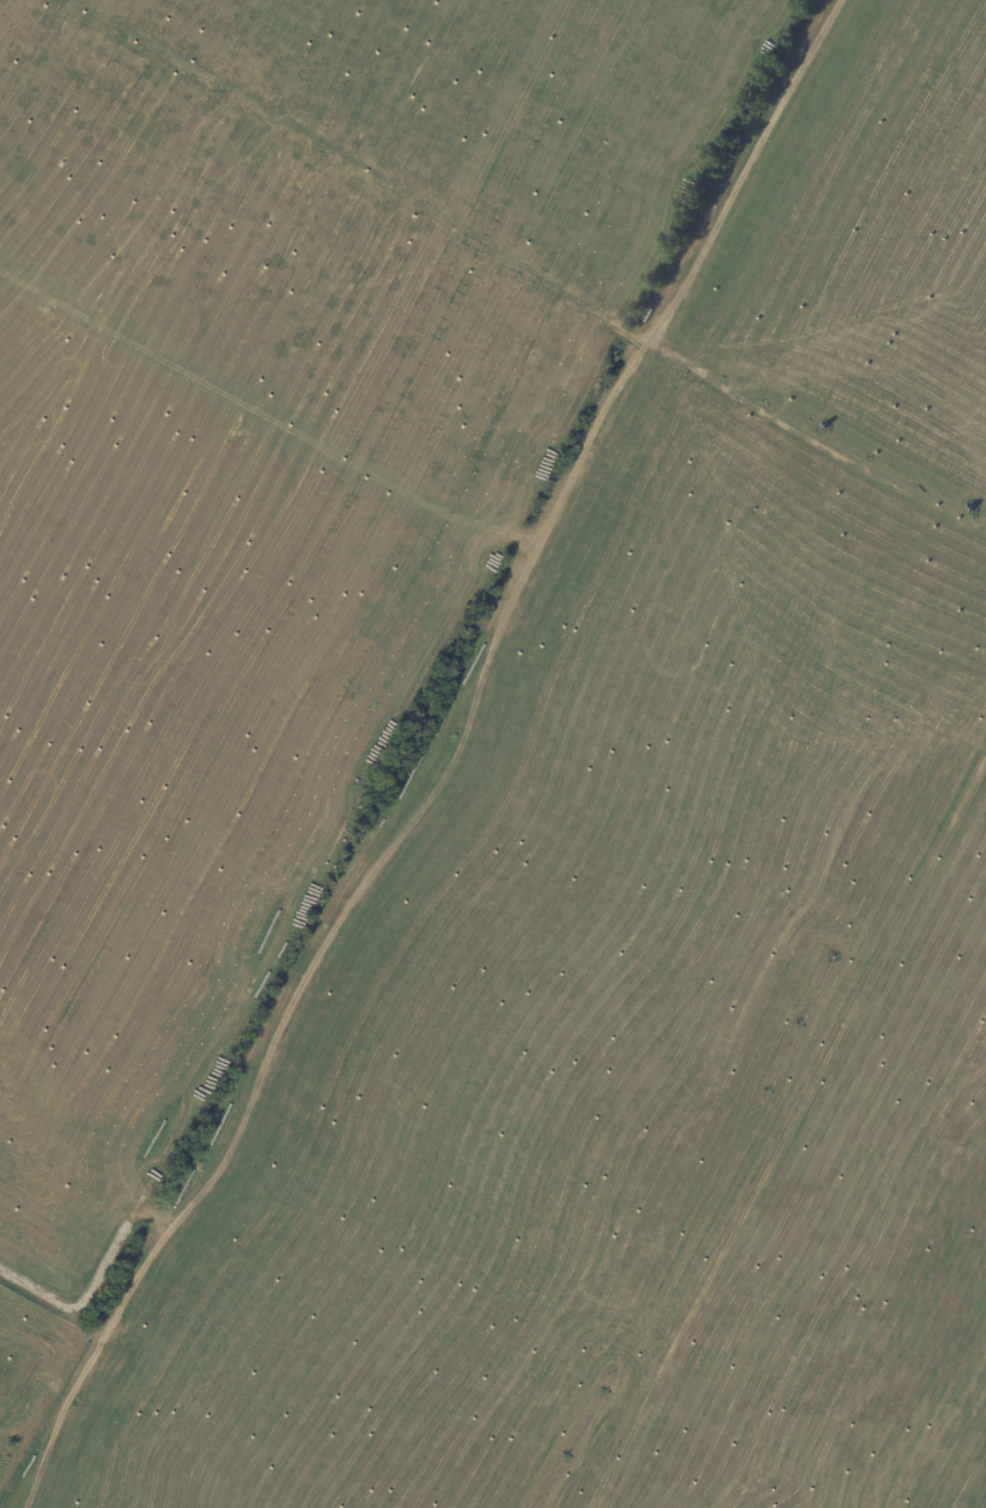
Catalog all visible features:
crop: (493, 754)
road: (445, 758)

